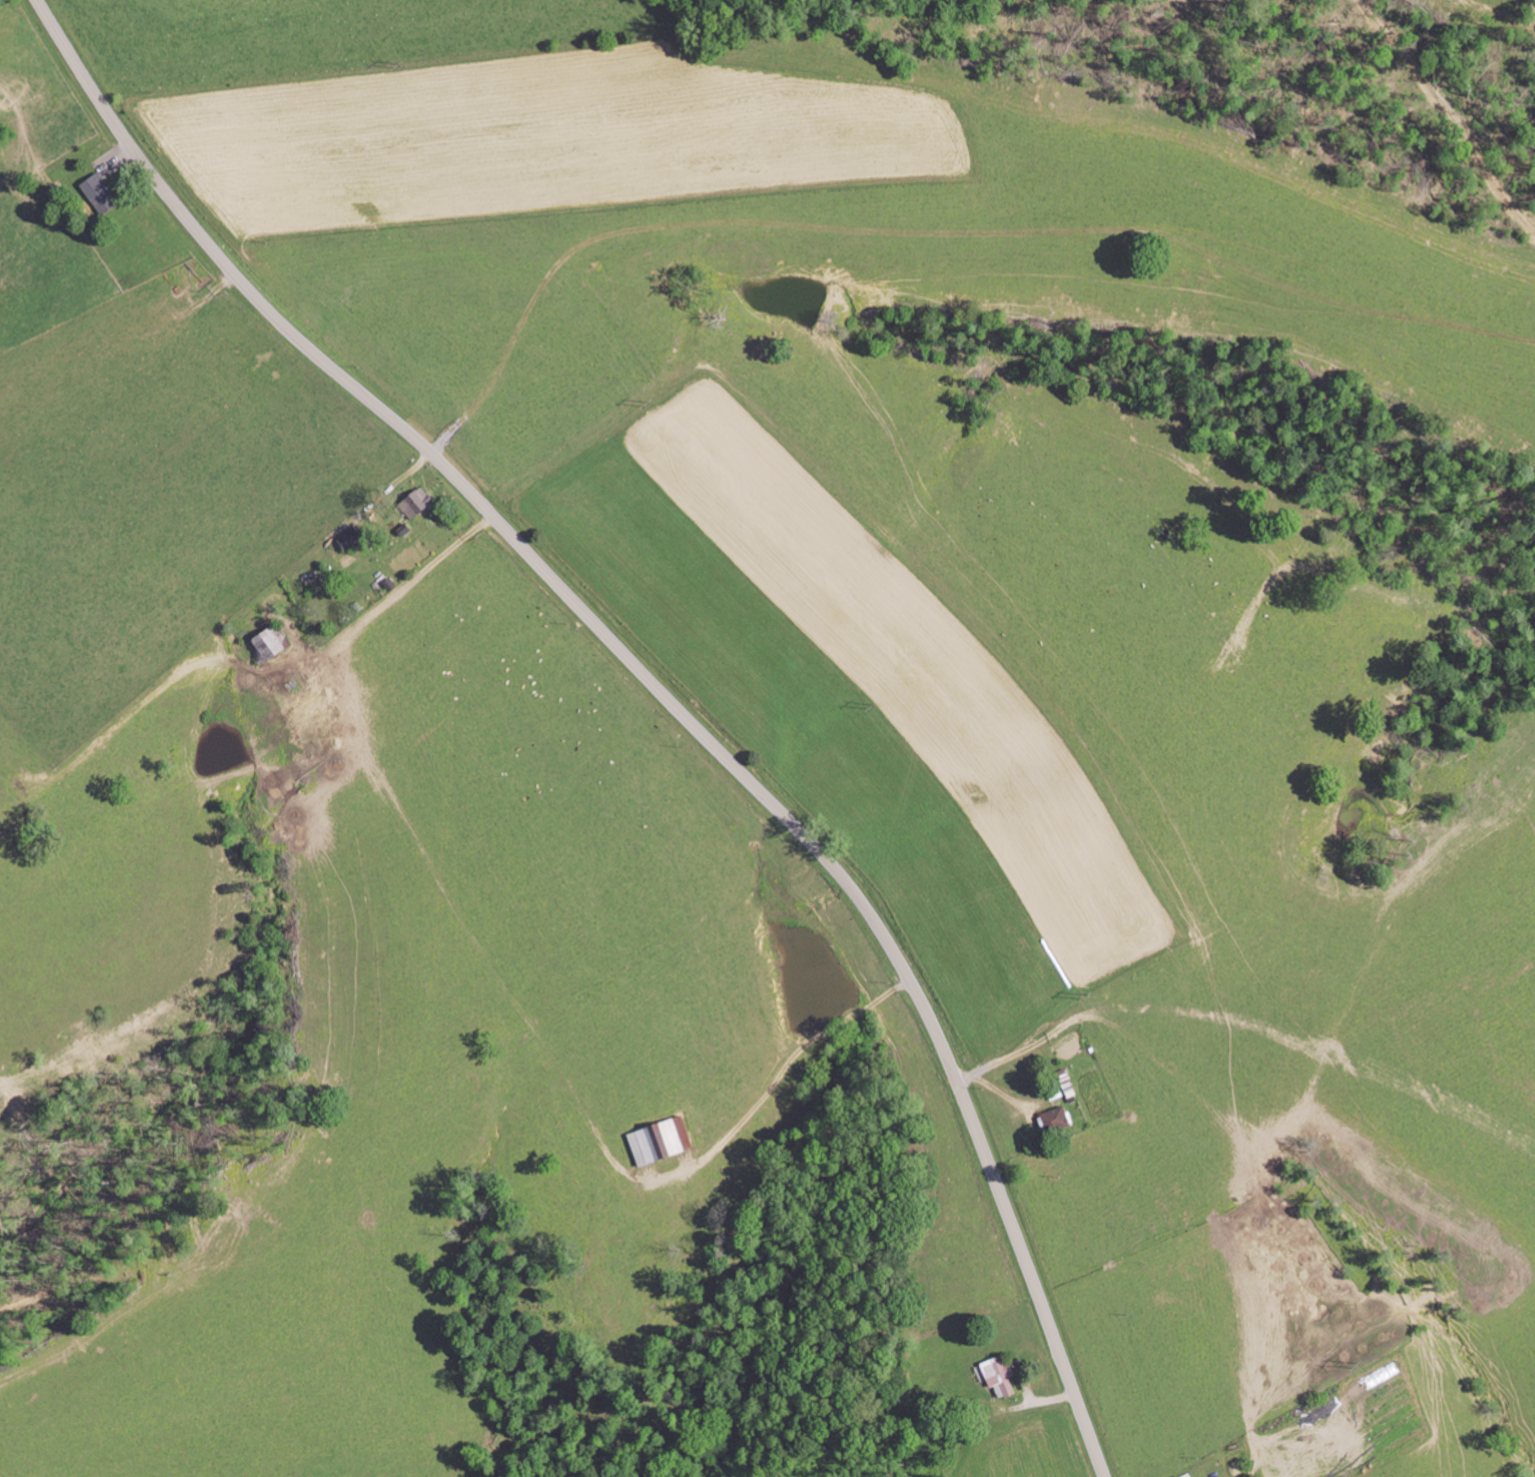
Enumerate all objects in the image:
building: (101, 194)
building: (421, 499)
building: (351, 538)
building: (270, 644)
road: (653, 684)
building: (1056, 1119)
building: (662, 1140)
building: (1001, 1375)

